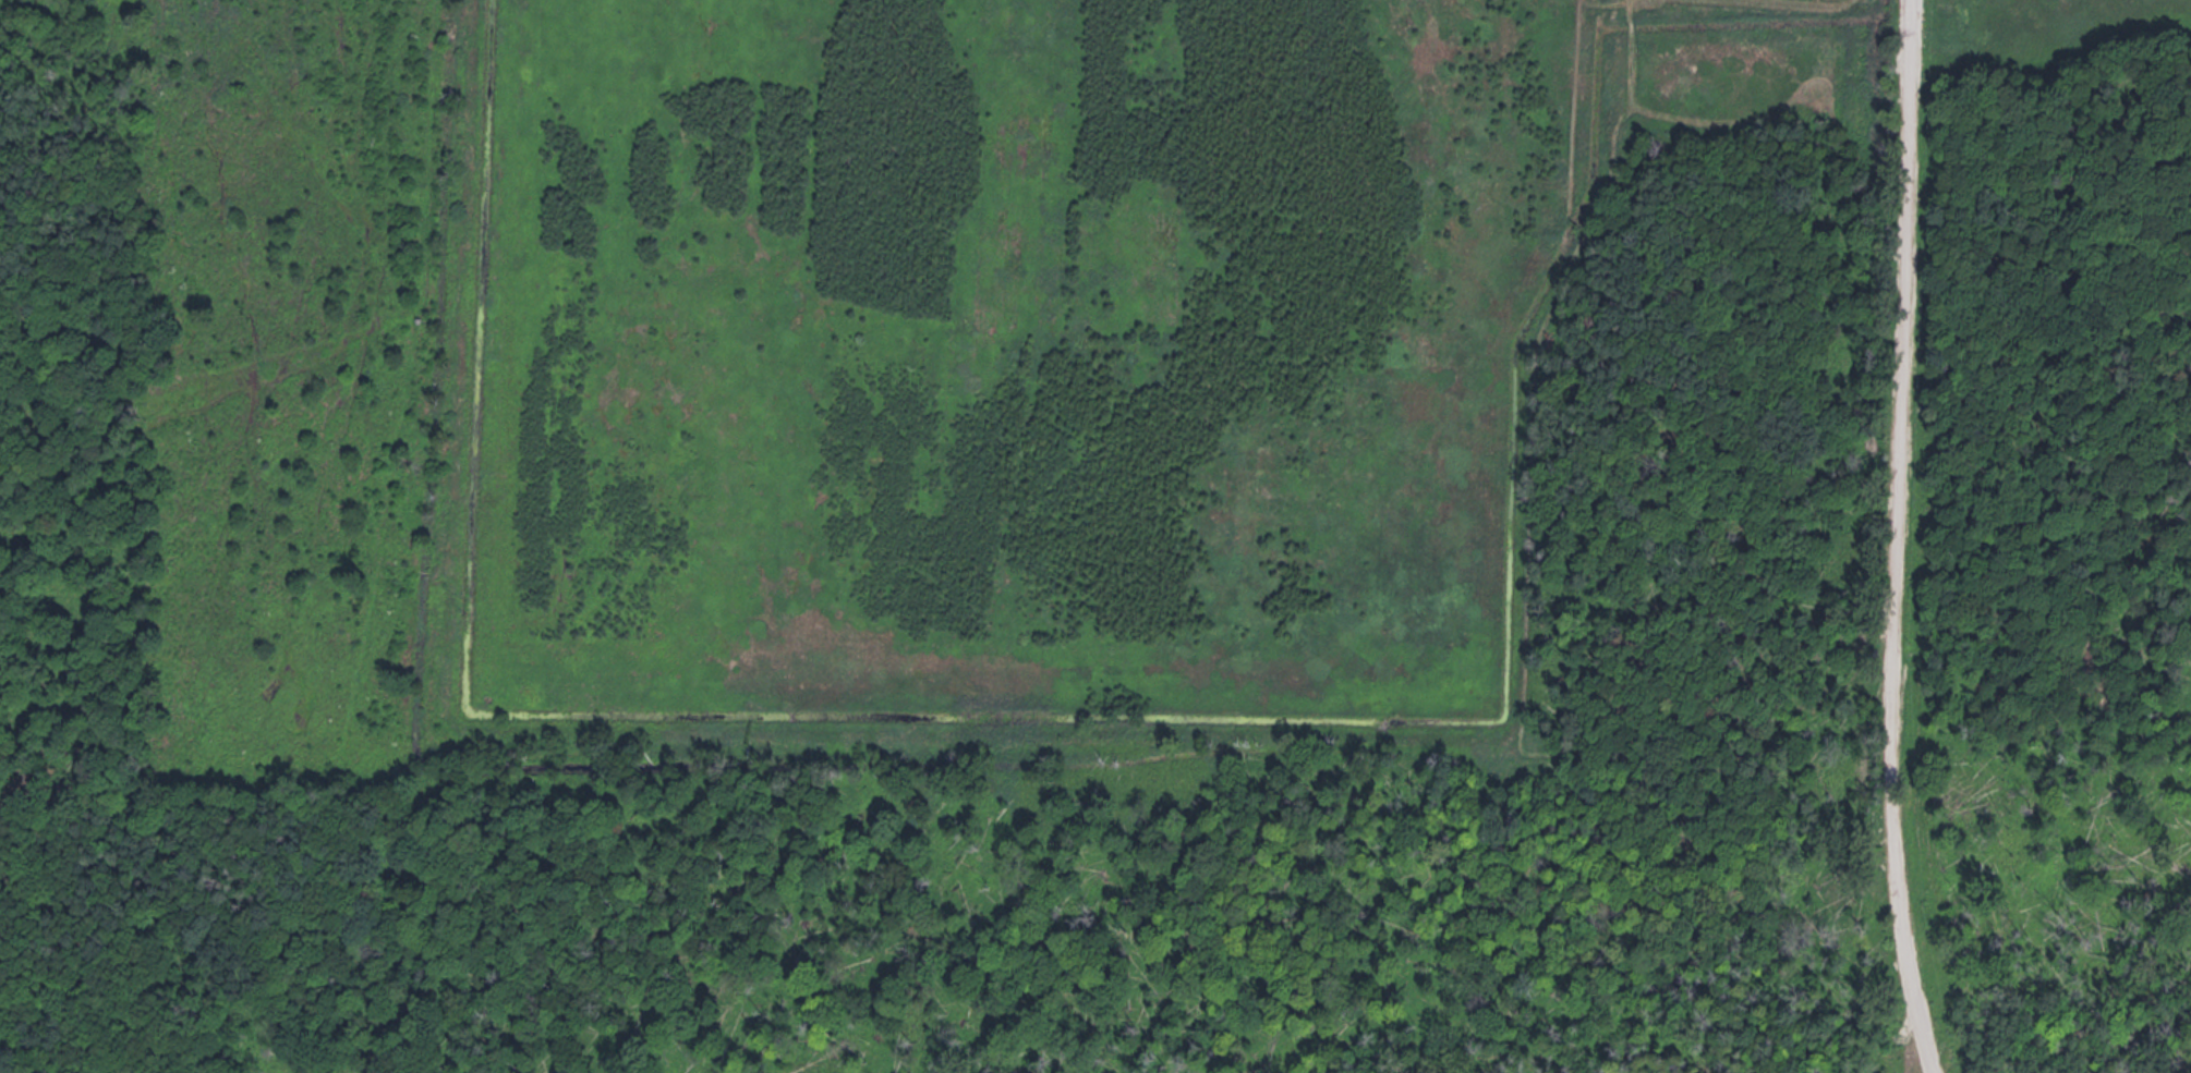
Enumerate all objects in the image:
road: (1896, 538)

